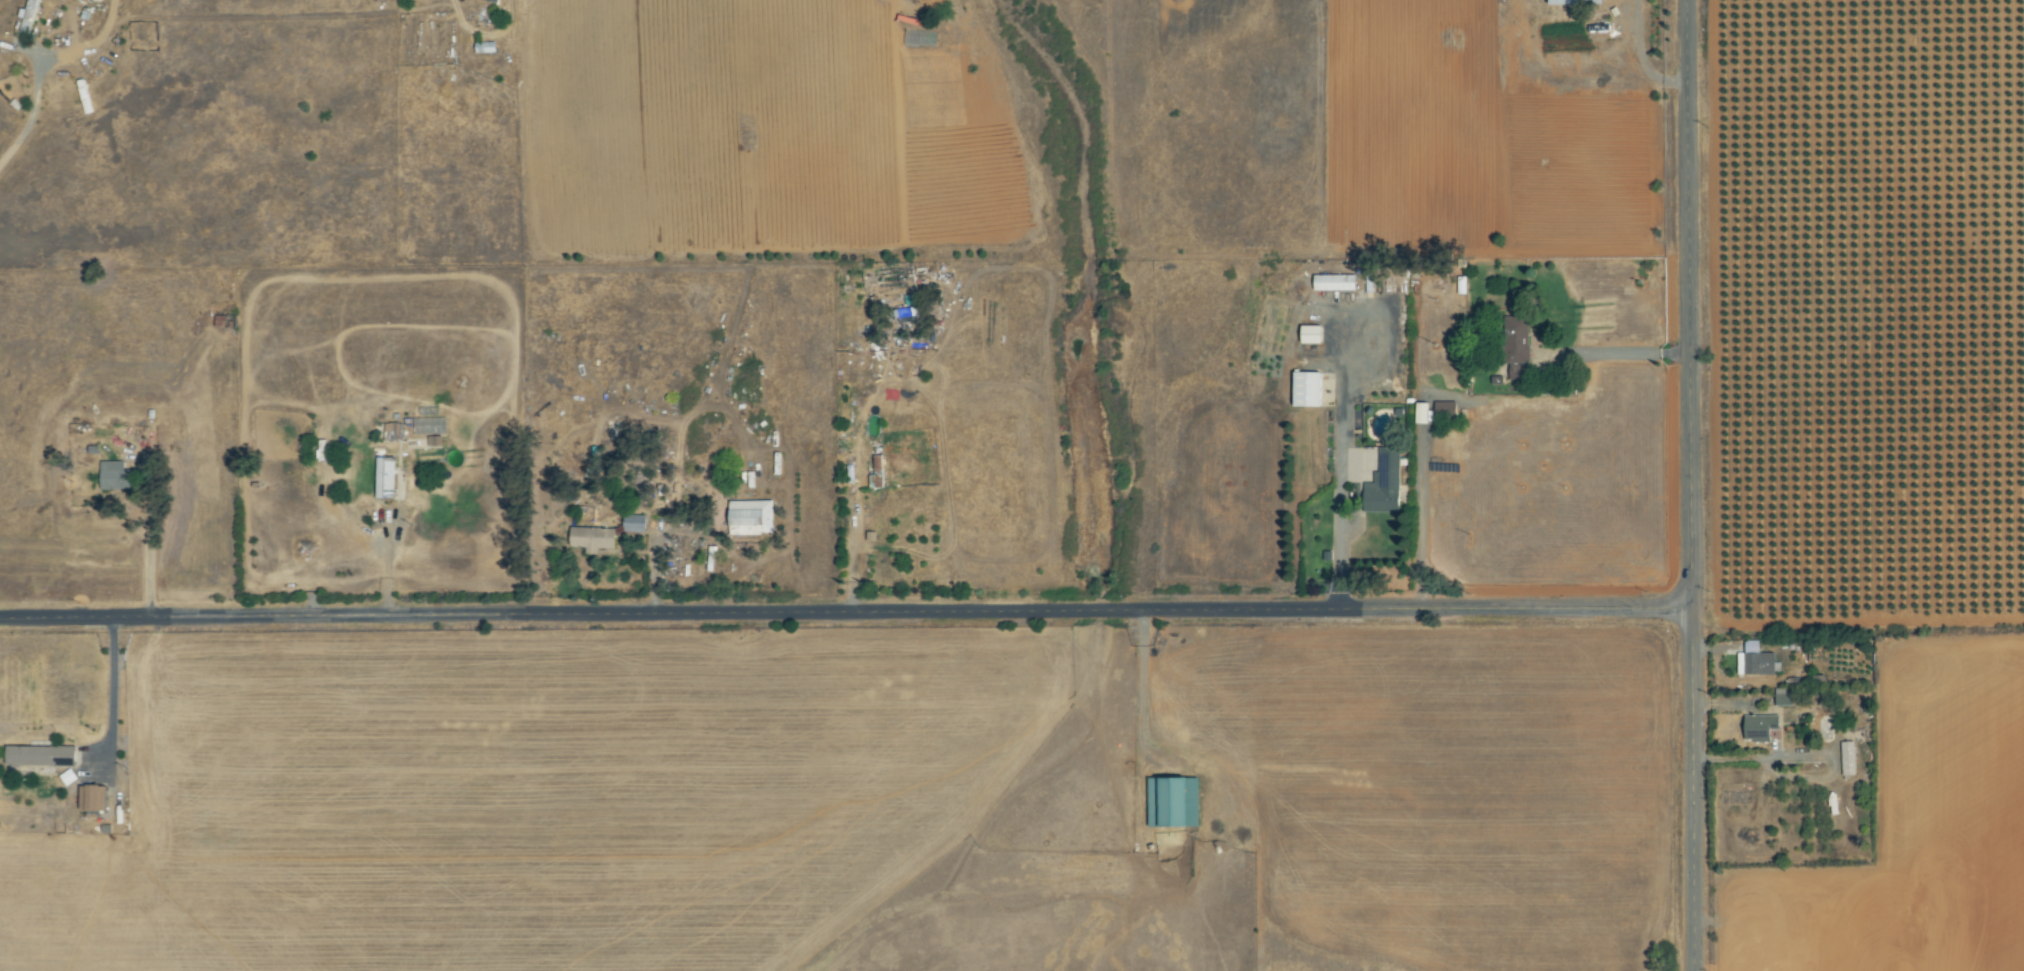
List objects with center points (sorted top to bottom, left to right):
road: (457, 8)
building: (28, 16)
road: (39, 62)
building: (1335, 282)
building: (908, 310)
building: (1313, 335)
road: (1615, 353)
building: (1309, 367)
building: (1310, 389)
building: (1445, 410)
building: (1423, 413)
building: (393, 430)
building: (878, 473)
building: (113, 475)
building: (386, 478)
building: (1385, 484)
road: (1690, 485)
building: (752, 518)
building: (635, 524)
building: (594, 539)
road: (147, 552)
road: (845, 612)
building: (1756, 661)
road: (1141, 688)
road: (111, 693)
building: (1784, 697)
building: (1759, 727)
building: (41, 756)
building: (1849, 758)
building: (94, 798)
building: (1175, 802)

